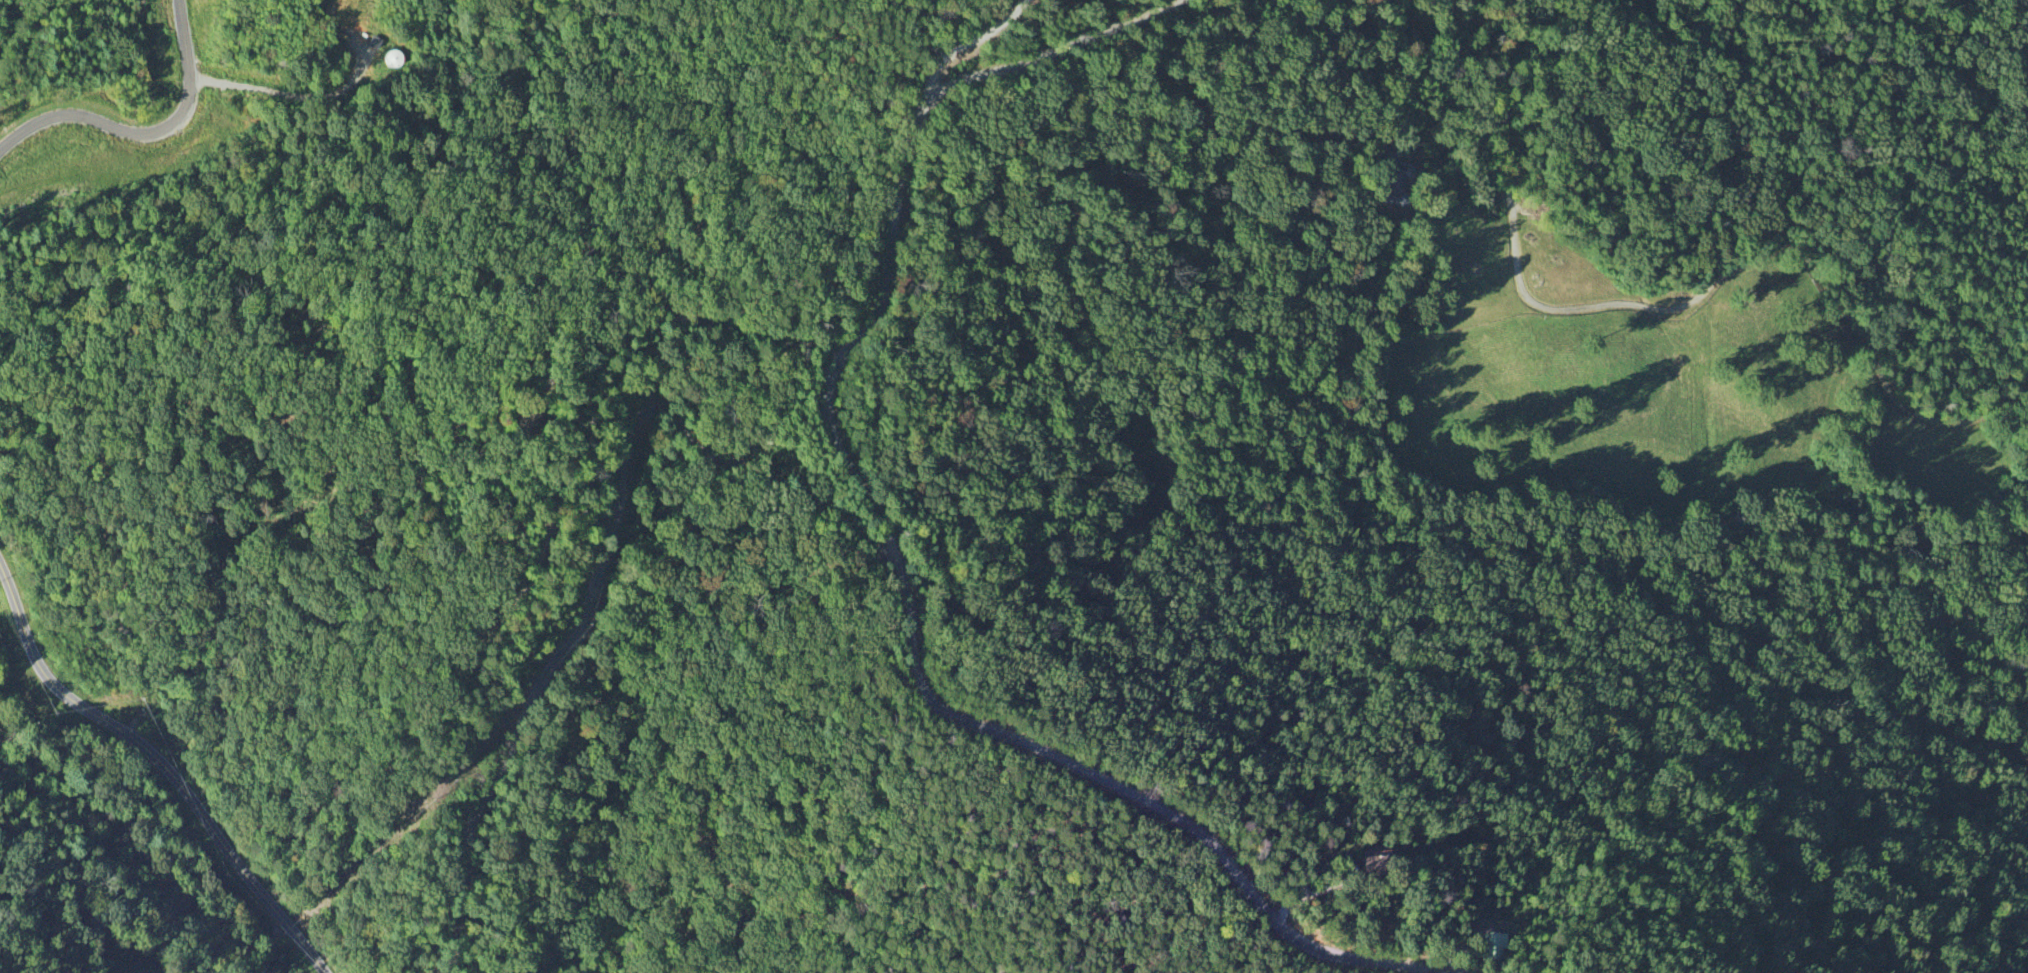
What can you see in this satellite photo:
road: (964, 47)
road: (1046, 49)
building: (360, 56)
building: (395, 59)
road: (245, 91)
road: (146, 130)
road: (599, 567)
road: (913, 674)
road: (161, 766)
building: (1374, 865)
building: (1493, 947)
road: (557, 955)

